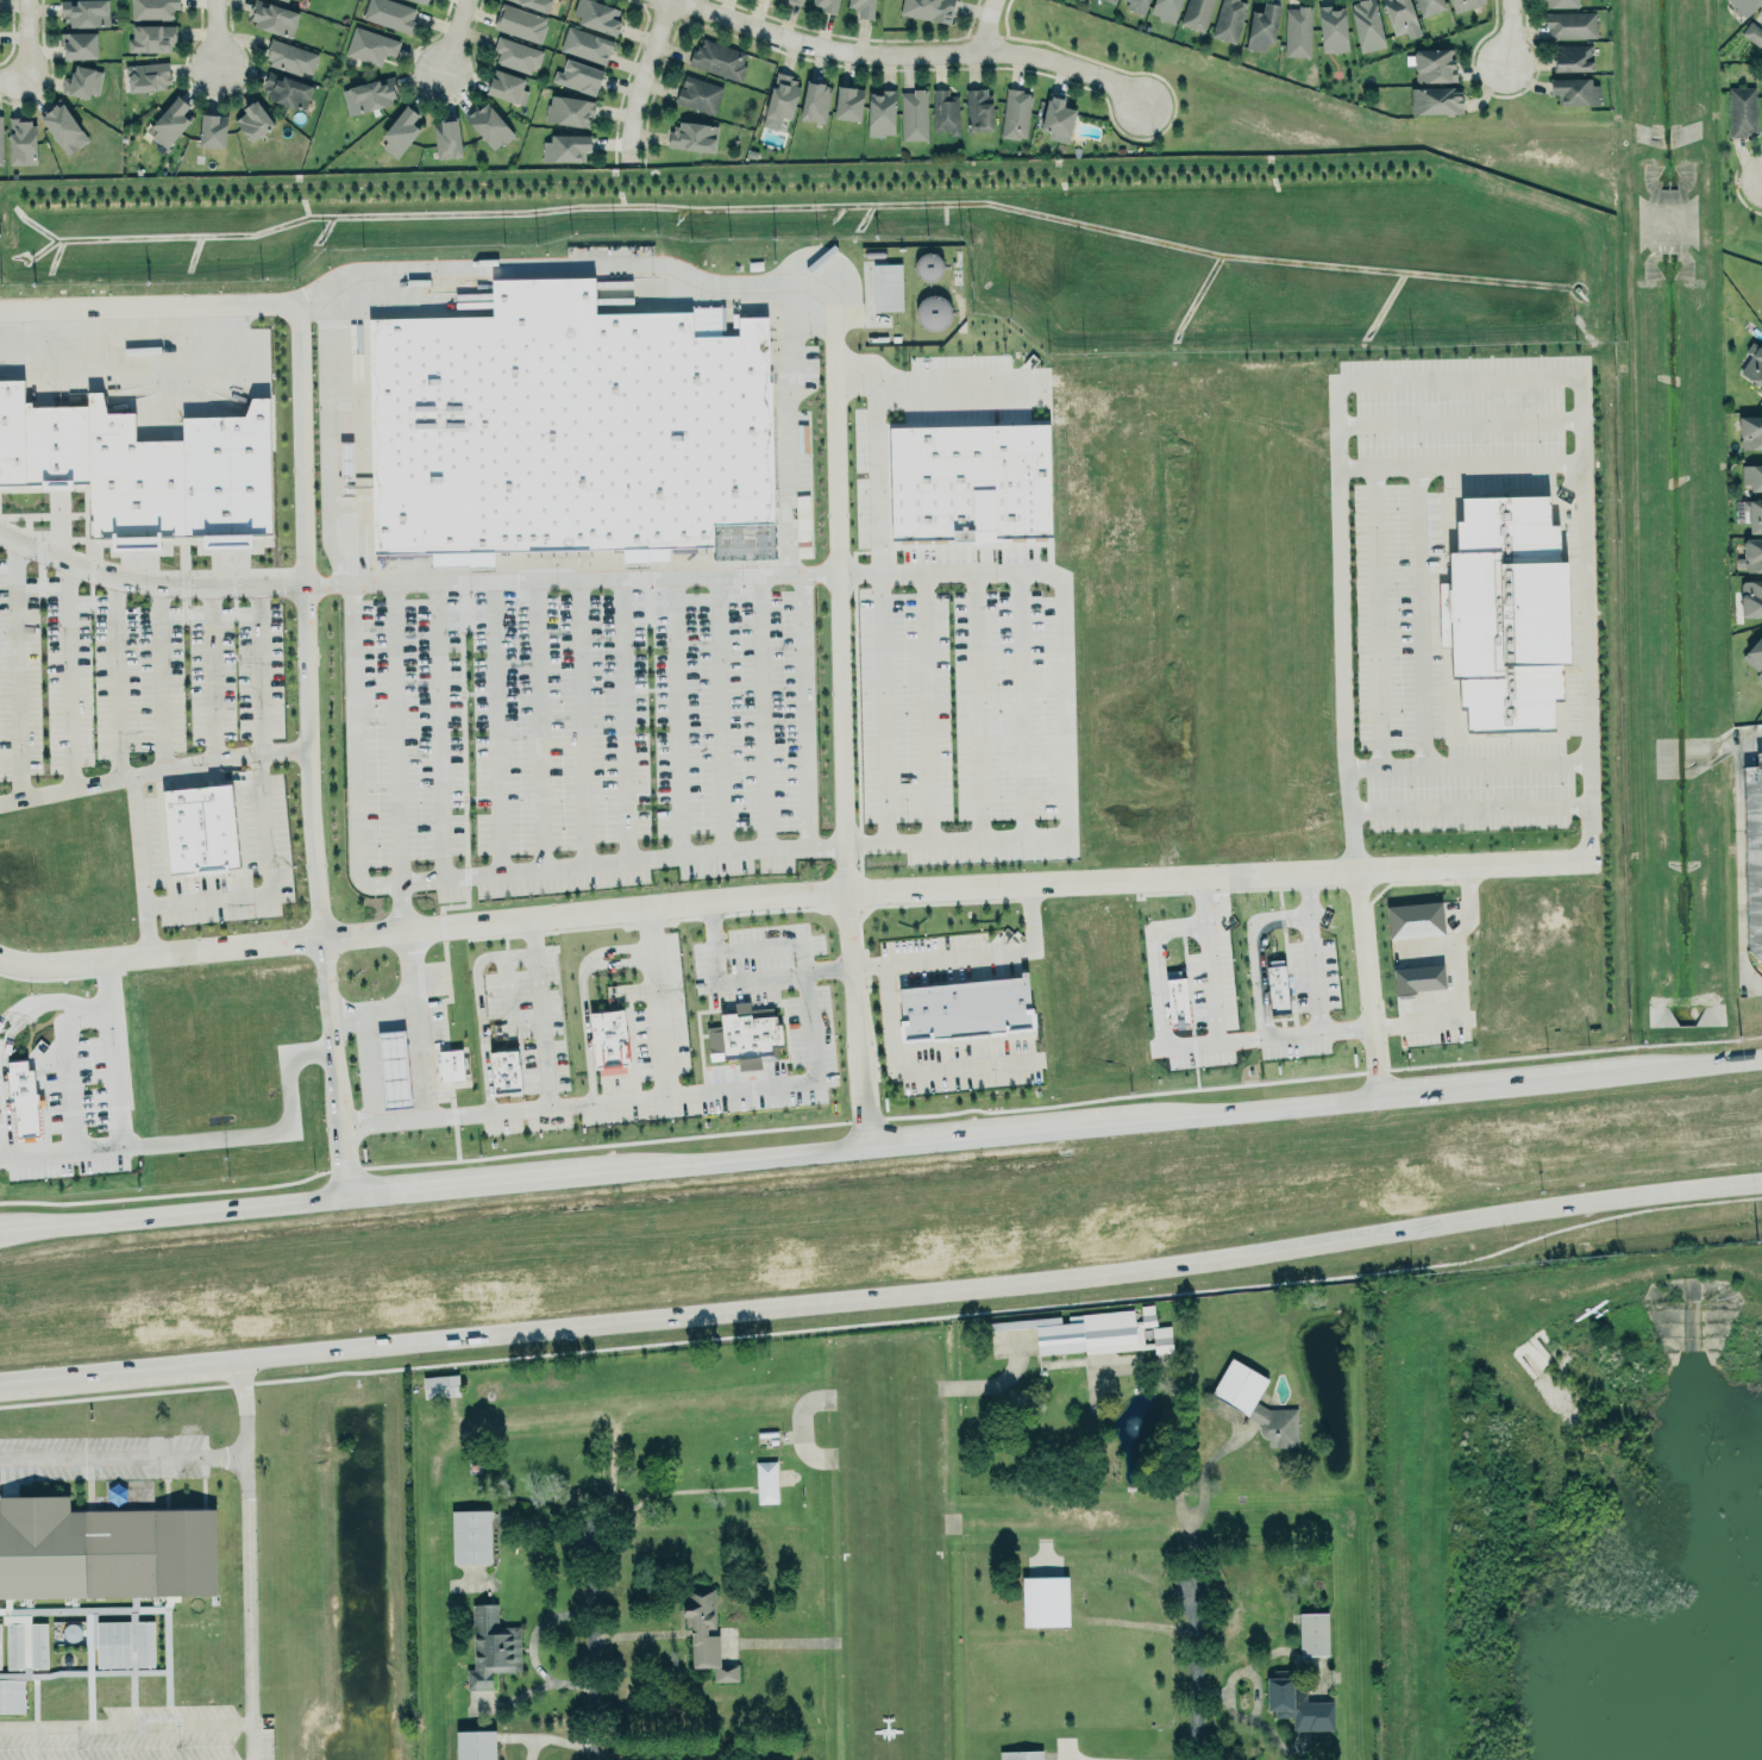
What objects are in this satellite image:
building: (286, 0)
building: (293, 0)
building: (1111, 0)
building: (422, 1)
building: (795, 1)
building: (1561, 2)
building: (824, 4)
building: (534, 5)
building: (1463, 5)
building: (1136, 6)
building: (1430, 6)
building: (1744, 6)
building: (864, 7)
building: (153, 8)
building: (927, 8)
building: (1165, 8)
building: (84, 12)
building: (1196, 13)
building: (389, 14)
building: (596, 15)
building: (272, 17)
building: (1402, 17)
building: (1228, 18)
building: (520, 23)
building: (1261, 24)
building: (1366, 24)
building: (1570, 24)
road: (989, 26)
building: (1333, 29)
road: (1509, 30)
building: (1297, 31)
building: (1752, 32)
road: (218, 33)
building: (152, 37)
road: (456, 37)
road: (26, 39)
building: (81, 44)
building: (585, 44)
building: (370, 45)
building: (515, 54)
road: (909, 55)
building: (289, 57)
building: (1572, 57)
building: (719, 59)
building: (1434, 64)
building: (148, 75)
building: (578, 76)
road: (13, 80)
road: (641, 80)
building: (82, 81)
building: (507, 86)
building: (286, 89)
building: (1574, 89)
building: (372, 93)
building: (698, 94)
building: (780, 95)
building: (1435, 99)
building: (814, 100)
building: (847, 102)
building: (978, 109)
building: (569, 111)
building: (945, 111)
building: (1741, 111)
building: (880, 112)
building: (913, 113)
building: (1015, 113)
building: (1056, 117)
building: (253, 120)
building: (170, 121)
building: (489, 125)
building: (63, 127)
building: (212, 130)
building: (400, 131)
building: (694, 137)
building: (446, 138)
building: (1, 139)
building: (23, 140)
building: (565, 148)
road: (670, 267)
building: (886, 286)
building: (932, 311)
building: (1752, 364)
road: (924, 386)
road: (834, 413)
building: (565, 428)
building: (12, 430)
building: (1749, 430)
road: (325, 433)
building: (55, 445)
building: (345, 468)
building: (226, 471)
building: (1752, 476)
building: (131, 477)
building: (970, 478)
building: (1754, 514)
building: (1752, 555)
road: (700, 572)
building: (1750, 600)
building: (1507, 613)
road: (295, 631)
building: (1752, 652)
road: (251, 666)
road: (7, 668)
road: (201, 669)
road: (61, 671)
road: (151, 671)
road: (108, 674)
road: (1064, 713)
road: (1341, 760)
road: (148, 764)
road: (1494, 807)
road: (344, 823)
building: (199, 828)
building: (1752, 851)
road: (1741, 856)
road: (137, 858)
road: (543, 864)
road: (265, 883)
road: (808, 892)
road: (396, 904)
building: (1415, 919)
road: (965, 953)
road: (1311, 971)
road: (734, 977)
building: (1418, 977)
road: (1211, 978)
road: (1253, 982)
road: (1450, 983)
road: (1155, 987)
building: (1277, 988)
road: (44, 1001)
road: (648, 1001)
building: (1177, 1001)
road: (397, 1006)
building: (966, 1007)
road: (537, 1010)
building: (748, 1034)
building: (608, 1038)
road: (109, 1050)
road: (418, 1057)
road: (366, 1064)
building: (450, 1064)
road: (1692, 1065)
road: (65, 1066)
building: (393, 1067)
building: (504, 1071)
road: (907, 1072)
road: (1494, 1083)
road: (617, 1096)
road: (1356, 1096)
building: (21, 1100)
road: (2, 1136)
road: (192, 1141)
road: (678, 1160)
road: (7, 1227)
road: (1334, 1238)
railway: (880, 1302)
road: (452, 1334)
building: (1161, 1339)
building: (440, 1385)
building: (1255, 1403)
airport taxiway: (493, 1420)
road: (1177, 1446)
parking lot: (105, 1455)
road: (121, 1455)
road: (1204, 1467)
building: (765, 1482)
airport taxiway: (1241, 1499)
building: (470, 1535)
building: (102, 1548)
road: (245, 1557)
airport runway: (882, 1561)
building: (1045, 1601)
road: (1142, 1623)
building: (1312, 1633)
building: (706, 1635)
building: (112, 1642)
building: (144, 1642)
building: (38, 1645)
building: (491, 1645)
building: (14, 1646)
road: (600, 1647)
road: (528, 1648)
building: (0, 1654)
road: (1199, 1676)
building: (12, 1696)
building: (1297, 1703)
road: (125, 1724)
road: (558, 1739)
building: (475, 1745)
building: (1020, 1754)
road: (657, 1755)
road: (1080, 1759)

